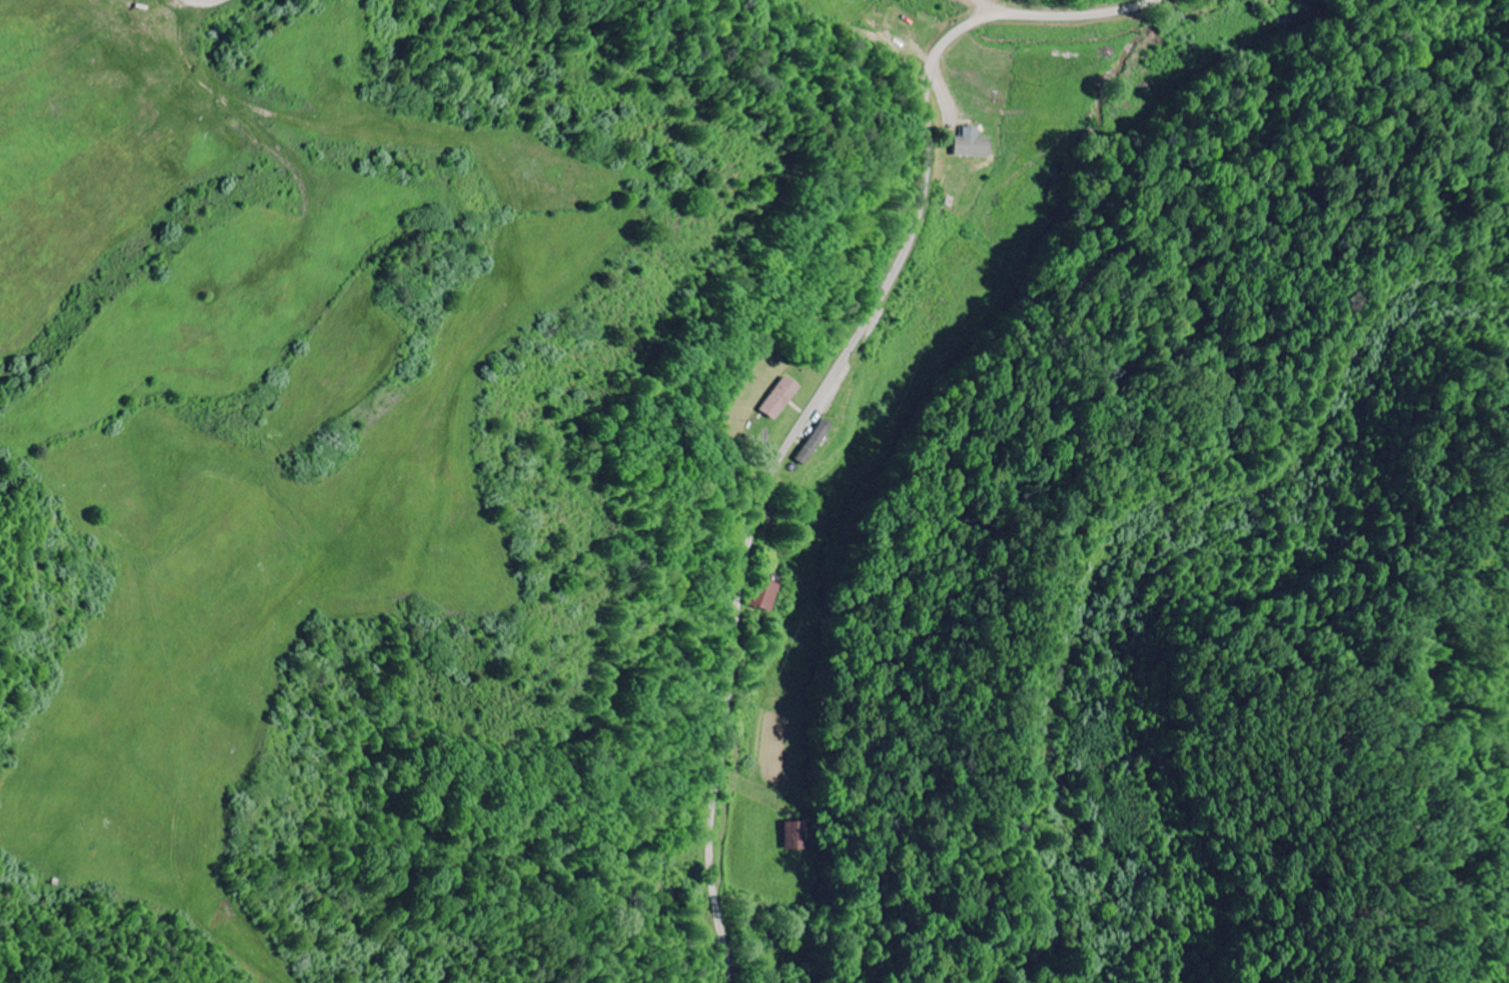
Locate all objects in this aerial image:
building: (973, 145)
road: (821, 396)
building: (780, 399)
building: (812, 443)
building: (764, 597)
building: (793, 838)

